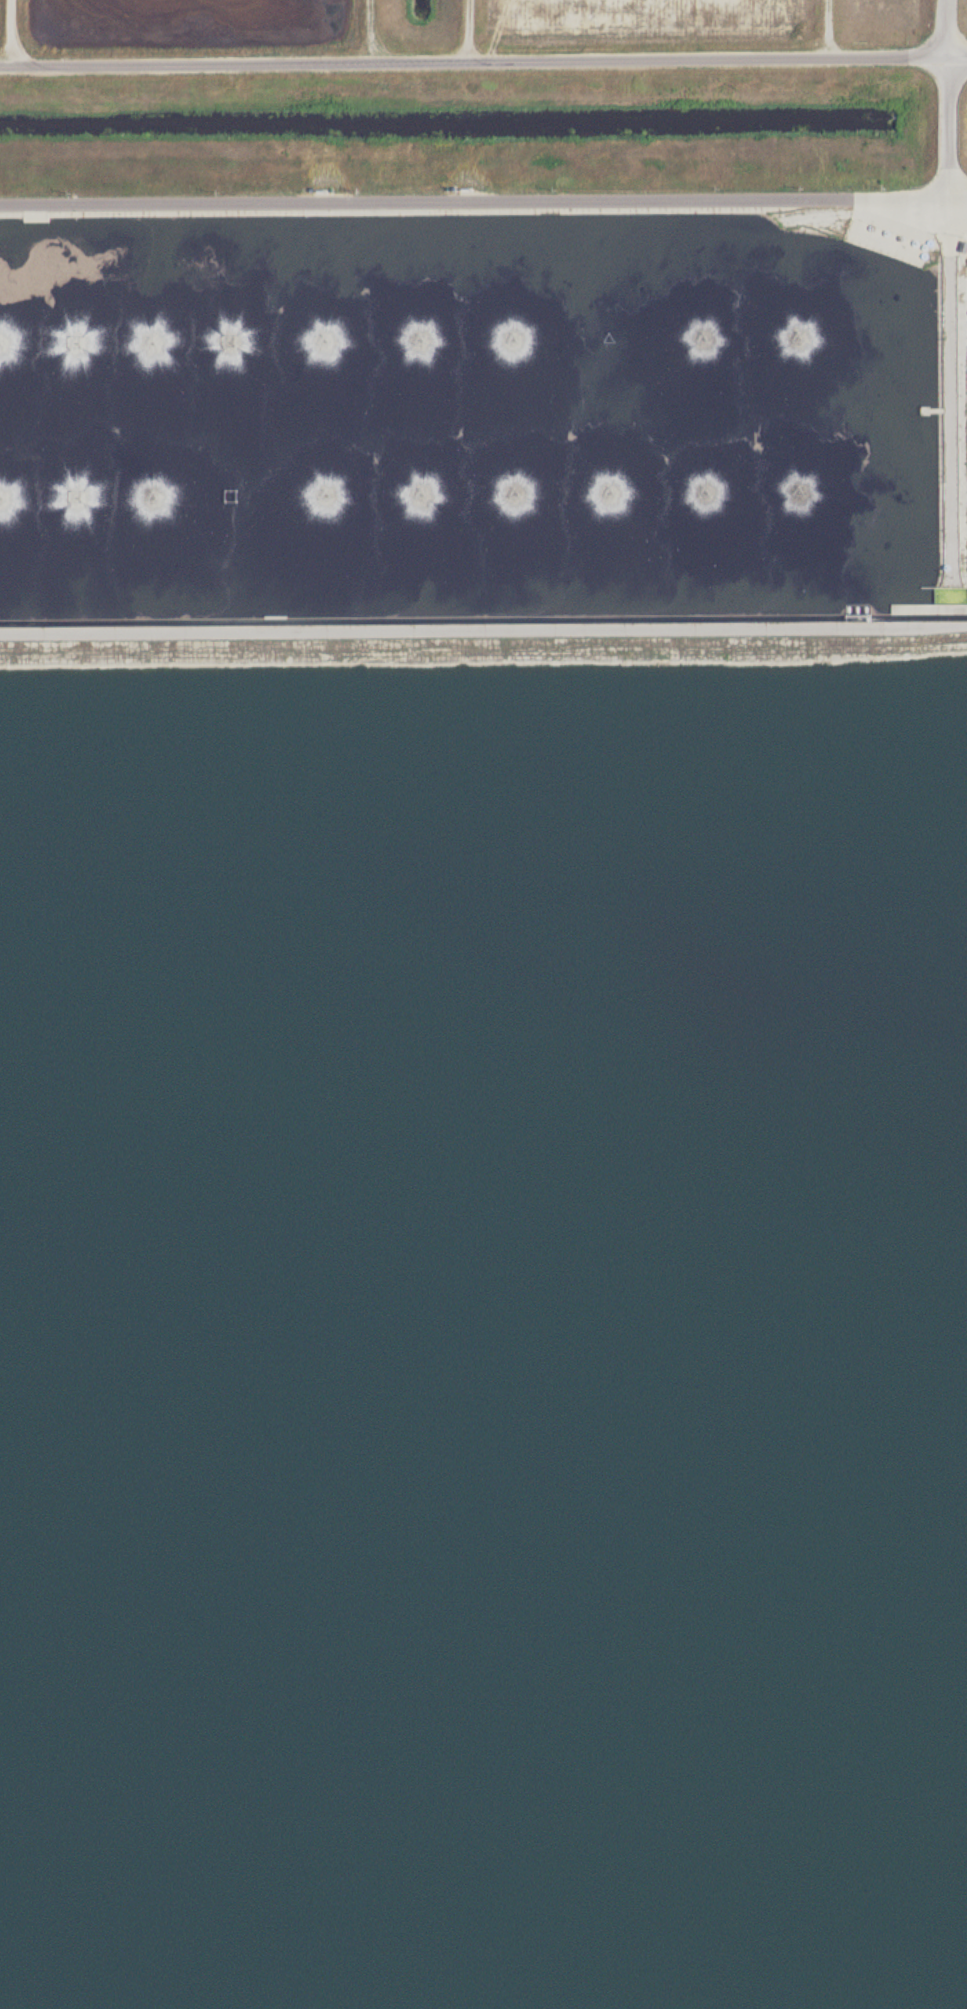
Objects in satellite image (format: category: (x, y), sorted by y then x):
road: (950, 27)
road: (483, 59)
wastewater plant: (483, 1004)

